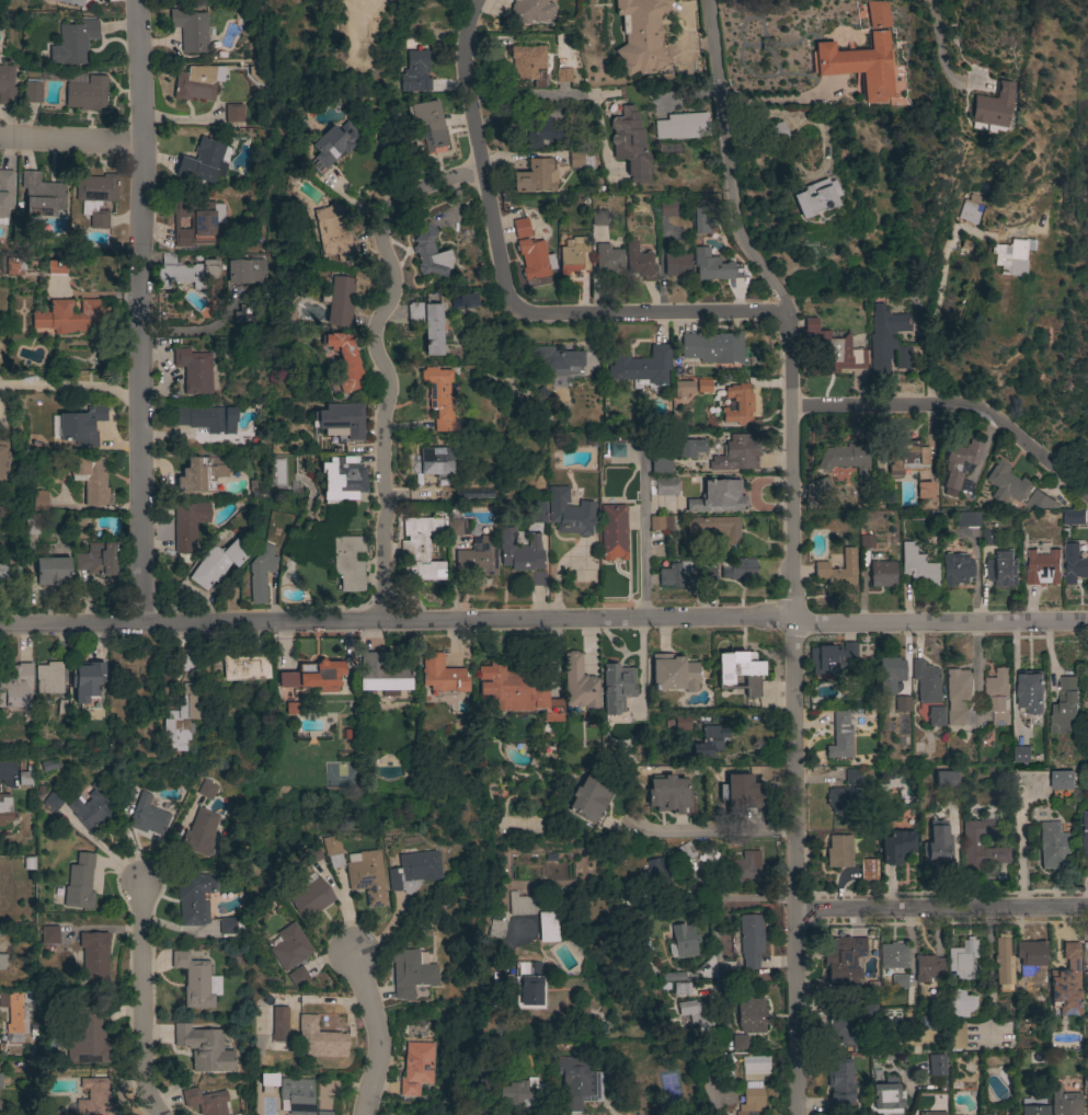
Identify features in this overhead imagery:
building: (70, 2)
building: (530, 11)
building: (879, 14)
building: (191, 30)
building: (641, 35)
building: (73, 43)
road: (938, 54)
building: (528, 64)
building: (860, 66)
building: (415, 72)
building: (257, 73)
building: (563, 76)
building: (197, 83)
building: (7, 85)
building: (32, 91)
road: (523, 93)
building: (87, 94)
road: (781, 103)
building: (990, 107)
building: (233, 112)
building: (574, 117)
building: (427, 125)
building: (682, 127)
building: (541, 133)
building: (776, 133)
road: (70, 139)
building: (629, 145)
building: (331, 146)
building: (580, 160)
building: (203, 162)
building: (535, 176)
building: (4, 194)
building: (39, 196)
building: (95, 197)
building: (814, 197)
building: (667, 208)
building: (969, 211)
building: (598, 218)
building: (201, 220)
building: (701, 220)
building: (520, 228)
building: (333, 232)
building: (430, 253)
building: (573, 256)
building: (1012, 256)
building: (534, 258)
building: (608, 260)
building: (640, 262)
building: (677, 266)
building: (712, 266)
building: (56, 267)
building: (245, 271)
building: (186, 273)
road: (503, 291)
road: (935, 292)
building: (472, 297)
building: (340, 301)
building: (460, 302)
road: (141, 312)
building: (244, 313)
building: (288, 313)
building: (72, 317)
building: (427, 326)
building: (885, 329)
building: (711, 348)
building: (835, 348)
road: (380, 359)
building: (550, 359)
building: (344, 361)
building: (641, 366)
building: (194, 371)
road: (71, 384)
building: (703, 386)
building: (683, 389)
building: (438, 396)
building: (737, 404)
road: (954, 404)
building: (207, 418)
building: (343, 422)
building: (80, 427)
building: (579, 440)
building: (691, 448)
building: (616, 450)
building: (1, 453)
building: (735, 455)
building: (905, 458)
building: (845, 459)
building: (959, 462)
building: (435, 463)
building: (661, 464)
building: (275, 472)
building: (202, 475)
building: (90, 479)
building: (342, 480)
building: (1006, 484)
building: (821, 485)
building: (663, 486)
building: (924, 491)
building: (718, 497)
building: (39, 502)
building: (1040, 502)
building: (538, 511)
building: (569, 513)
building: (1073, 517)
building: (966, 519)
building: (660, 522)
building: (188, 524)
building: (31, 525)
building: (457, 527)
building: (714, 528)
building: (612, 532)
road: (645, 533)
building: (987, 538)
building: (867, 541)
road: (790, 549)
building: (421, 550)
building: (519, 551)
building: (478, 557)
building: (98, 560)
building: (348, 563)
building: (1074, 563)
building: (217, 564)
building: (916, 565)
building: (957, 566)
building: (1042, 567)
building: (738, 568)
building: (838, 570)
building: (1001, 570)
building: (10, 572)
building: (53, 572)
building: (707, 572)
building: (260, 573)
building: (882, 574)
building: (679, 575)
road: (543, 621)
building: (831, 658)
building: (185, 663)
building: (244, 667)
building: (1087, 667)
road: (976, 668)
building: (740, 671)
building: (381, 674)
building: (673, 674)
building: (440, 675)
building: (313, 676)
building: (890, 676)
building: (48, 678)
building: (85, 680)
building: (16, 687)
building: (577, 687)
building: (617, 688)
building: (518, 691)
building: (1087, 691)
building: (927, 692)
building: (1030, 692)
building: (957, 693)
building: (998, 696)
building: (902, 703)
building: (1064, 705)
building: (291, 709)
building: (182, 715)
building: (858, 720)
building: (680, 723)
building: (839, 737)
building: (709, 740)
building: (1021, 754)
building: (49, 765)
road: (4, 774)
building: (851, 777)
building: (24, 779)
building: (944, 780)
building: (1062, 783)
building: (207, 790)
building: (124, 793)
building: (737, 793)
building: (668, 794)
building: (589, 800)
building: (844, 800)
building: (53, 801)
building: (91, 807)
building: (4, 808)
building: (147, 818)
road: (710, 831)
building: (201, 832)
building: (1085, 834)
building: (937, 844)
building: (980, 846)
building: (1053, 846)
building: (896, 847)
building: (333, 851)
building: (838, 851)
building: (685, 852)
building: (311, 854)
building: (708, 857)
building: (746, 867)
building: (413, 870)
building: (867, 870)
building: (365, 872)
building: (656, 873)
building: (561, 874)
building: (78, 884)
building: (309, 897)
building: (194, 898)
building: (519, 905)
road: (900, 908)
building: (227, 926)
building: (547, 927)
building: (494, 929)
building: (47, 935)
building: (748, 941)
building: (682, 942)
building: (288, 947)
building: (641, 947)
building: (1030, 953)
building: (93, 955)
building: (893, 956)
building: (1087, 958)
building: (845, 959)
building: (962, 959)
building: (3, 961)
building: (1003, 962)
building: (927, 968)
building: (410, 973)
road: (990, 974)
building: (672, 976)
building: (297, 977)
building: (196, 981)
building: (898, 982)
building: (1066, 982)
building: (528, 987)
building: (682, 988)
building: (959, 1003)
road: (137, 1005)
road: (721, 1009)
building: (749, 1014)
building: (13, 1015)
building: (697, 1015)
building: (279, 1031)
building: (841, 1031)
road: (377, 1035)
building: (957, 1035)
building: (88, 1036)
building: (319, 1041)
building: (738, 1043)
building: (204, 1049)
building: (936, 1065)
building: (416, 1068)
building: (0, 1081)
building: (265, 1081)
building: (576, 1082)
building: (839, 1083)
building: (522, 1092)
building: (296, 1095)
building: (94, 1097)
building: (884, 1097)
building: (205, 1101)
building: (751, 1101)
building: (1064, 1102)
building: (1087, 1104)
building: (1032, 1106)
road: (466, 1108)
building: (48, 1113)
building: (322, 1113)
building: (931, 1113)
building: (237, 1114)
building: (913, 1114)
building: (987, 1114)

